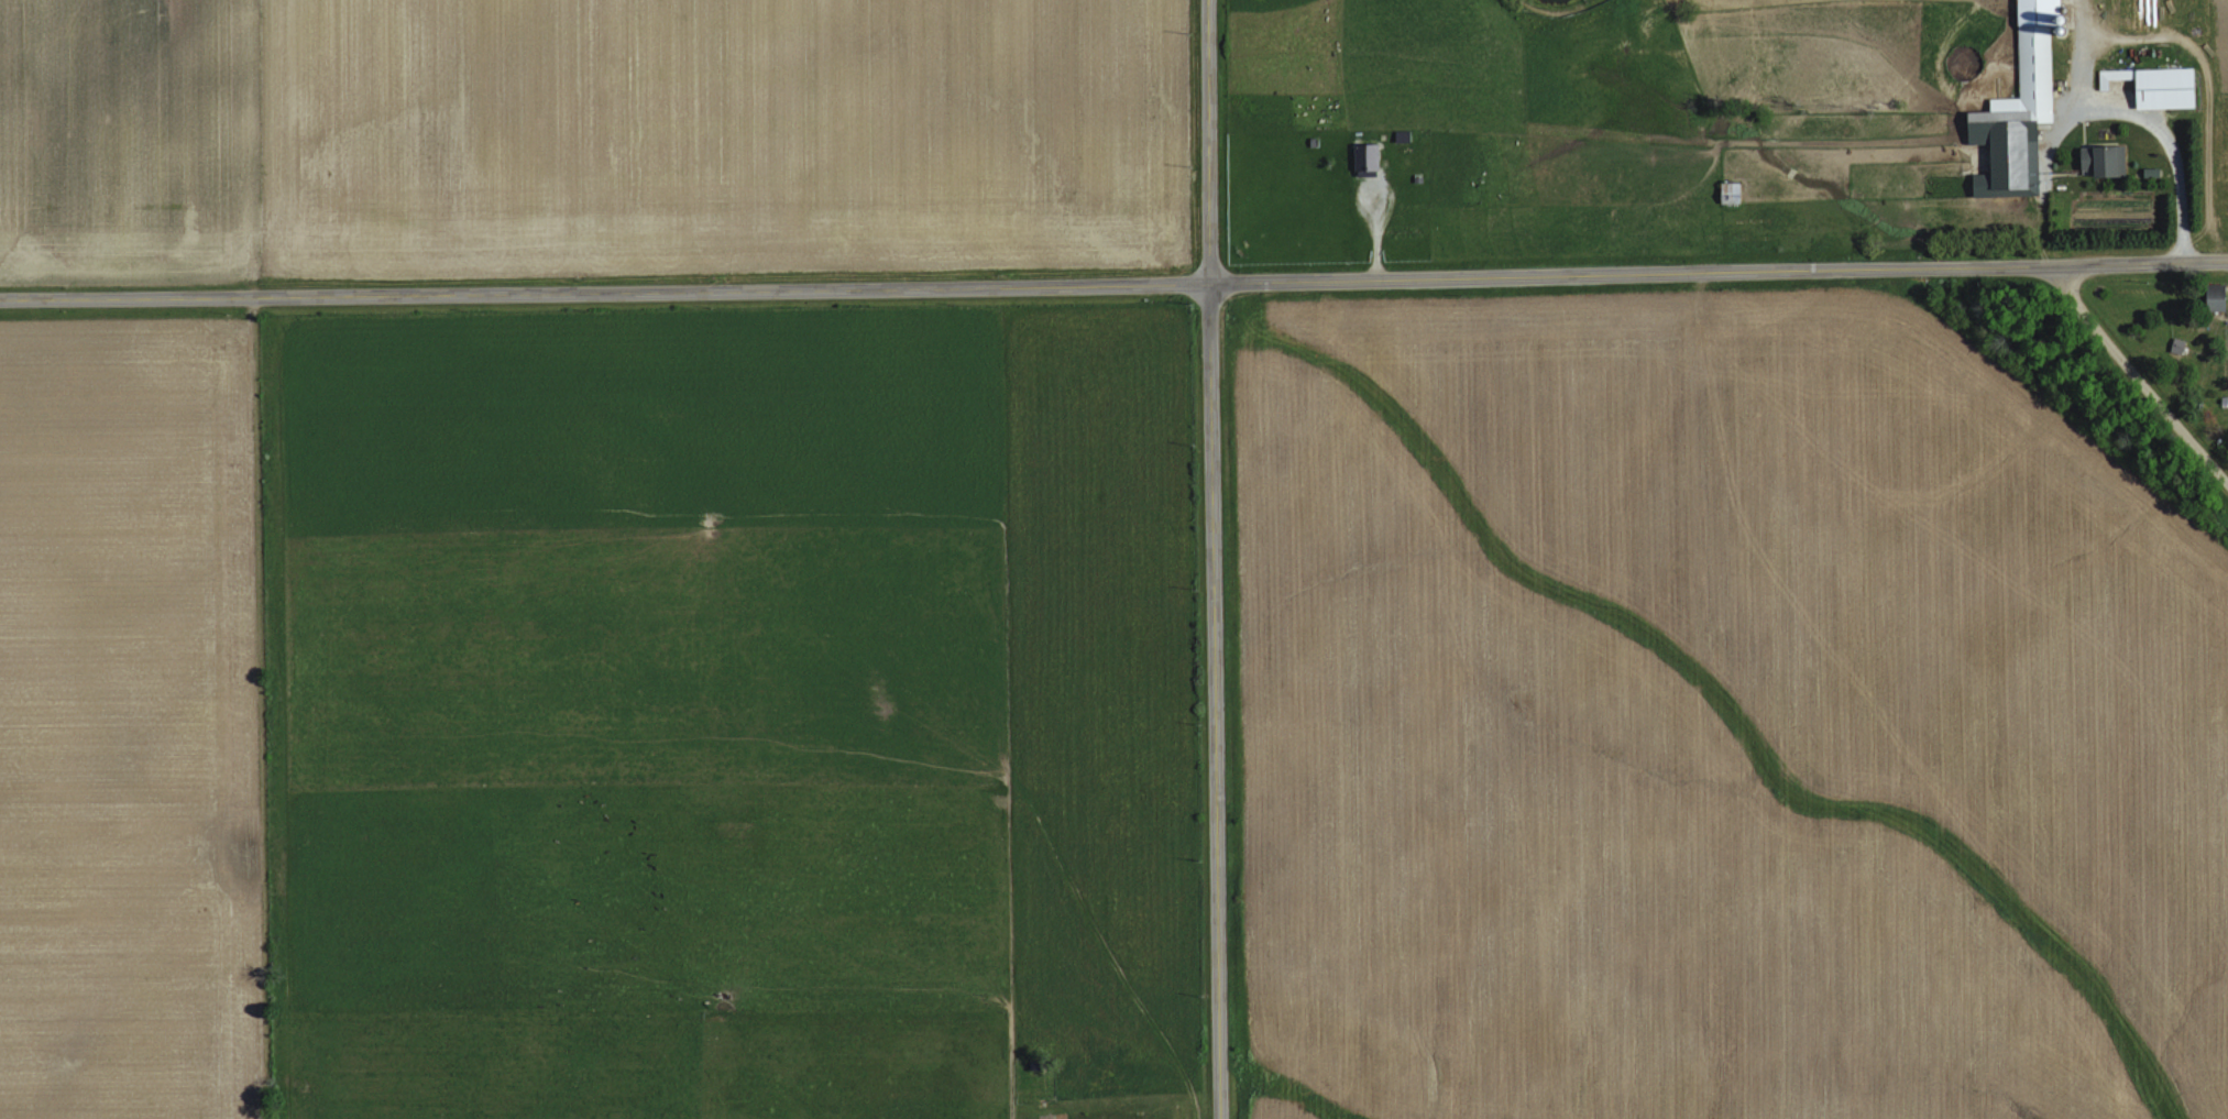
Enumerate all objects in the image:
road: (2075, 62)
building: (2158, 86)
building: (2020, 110)
road: (2138, 130)
building: (1368, 158)
building: (2105, 161)
road: (1113, 286)
building: (2218, 298)
road: (2137, 381)
road: (1212, 559)

